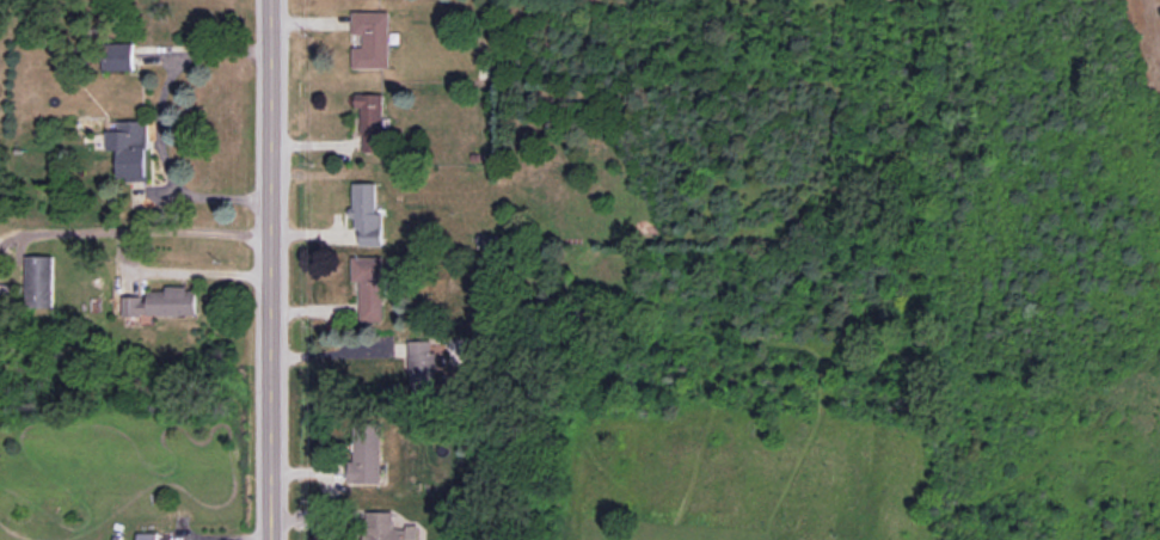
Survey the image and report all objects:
building: (370, 39)
building: (118, 56)
building: (370, 121)
road: (161, 135)
building: (130, 149)
building: (366, 213)
road: (124, 248)
road: (270, 269)
building: (38, 281)
building: (369, 287)
building: (161, 302)
road: (333, 351)
building: (421, 364)
building: (366, 454)
building: (387, 527)
building: (147, 535)
road: (245, 538)

